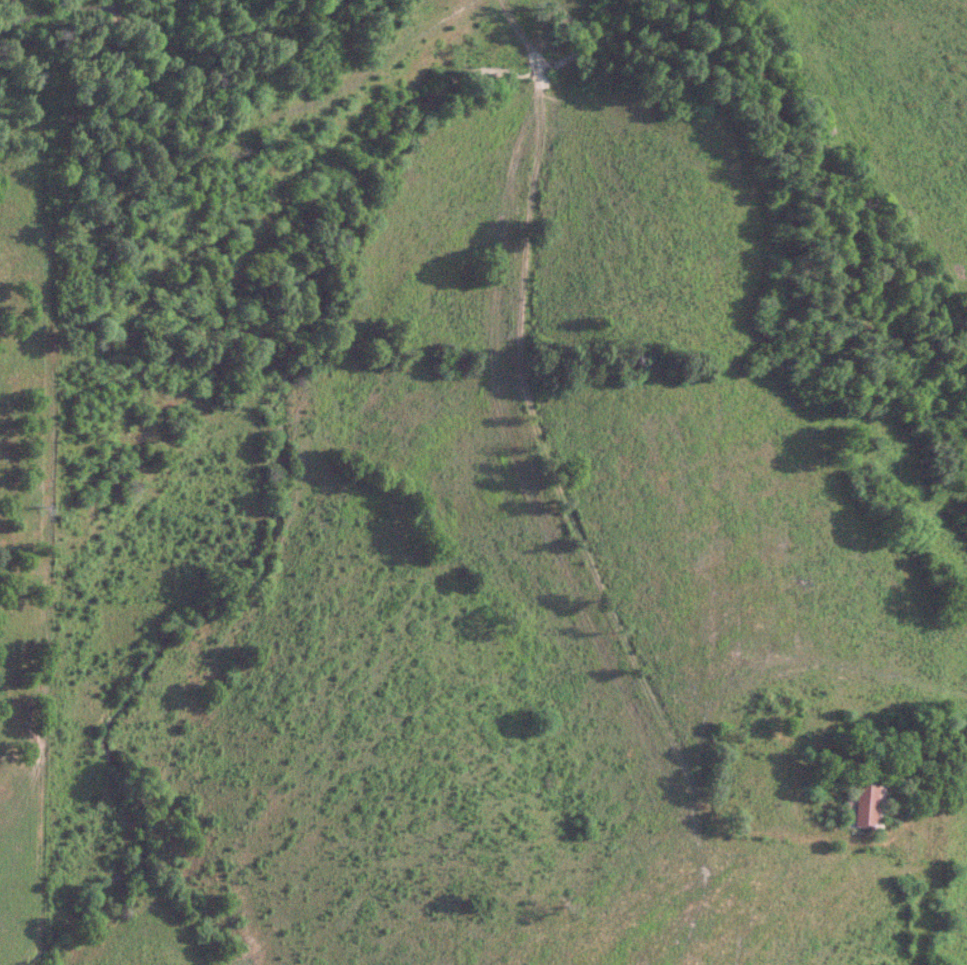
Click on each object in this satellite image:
road: (528, 408)
building: (869, 802)

